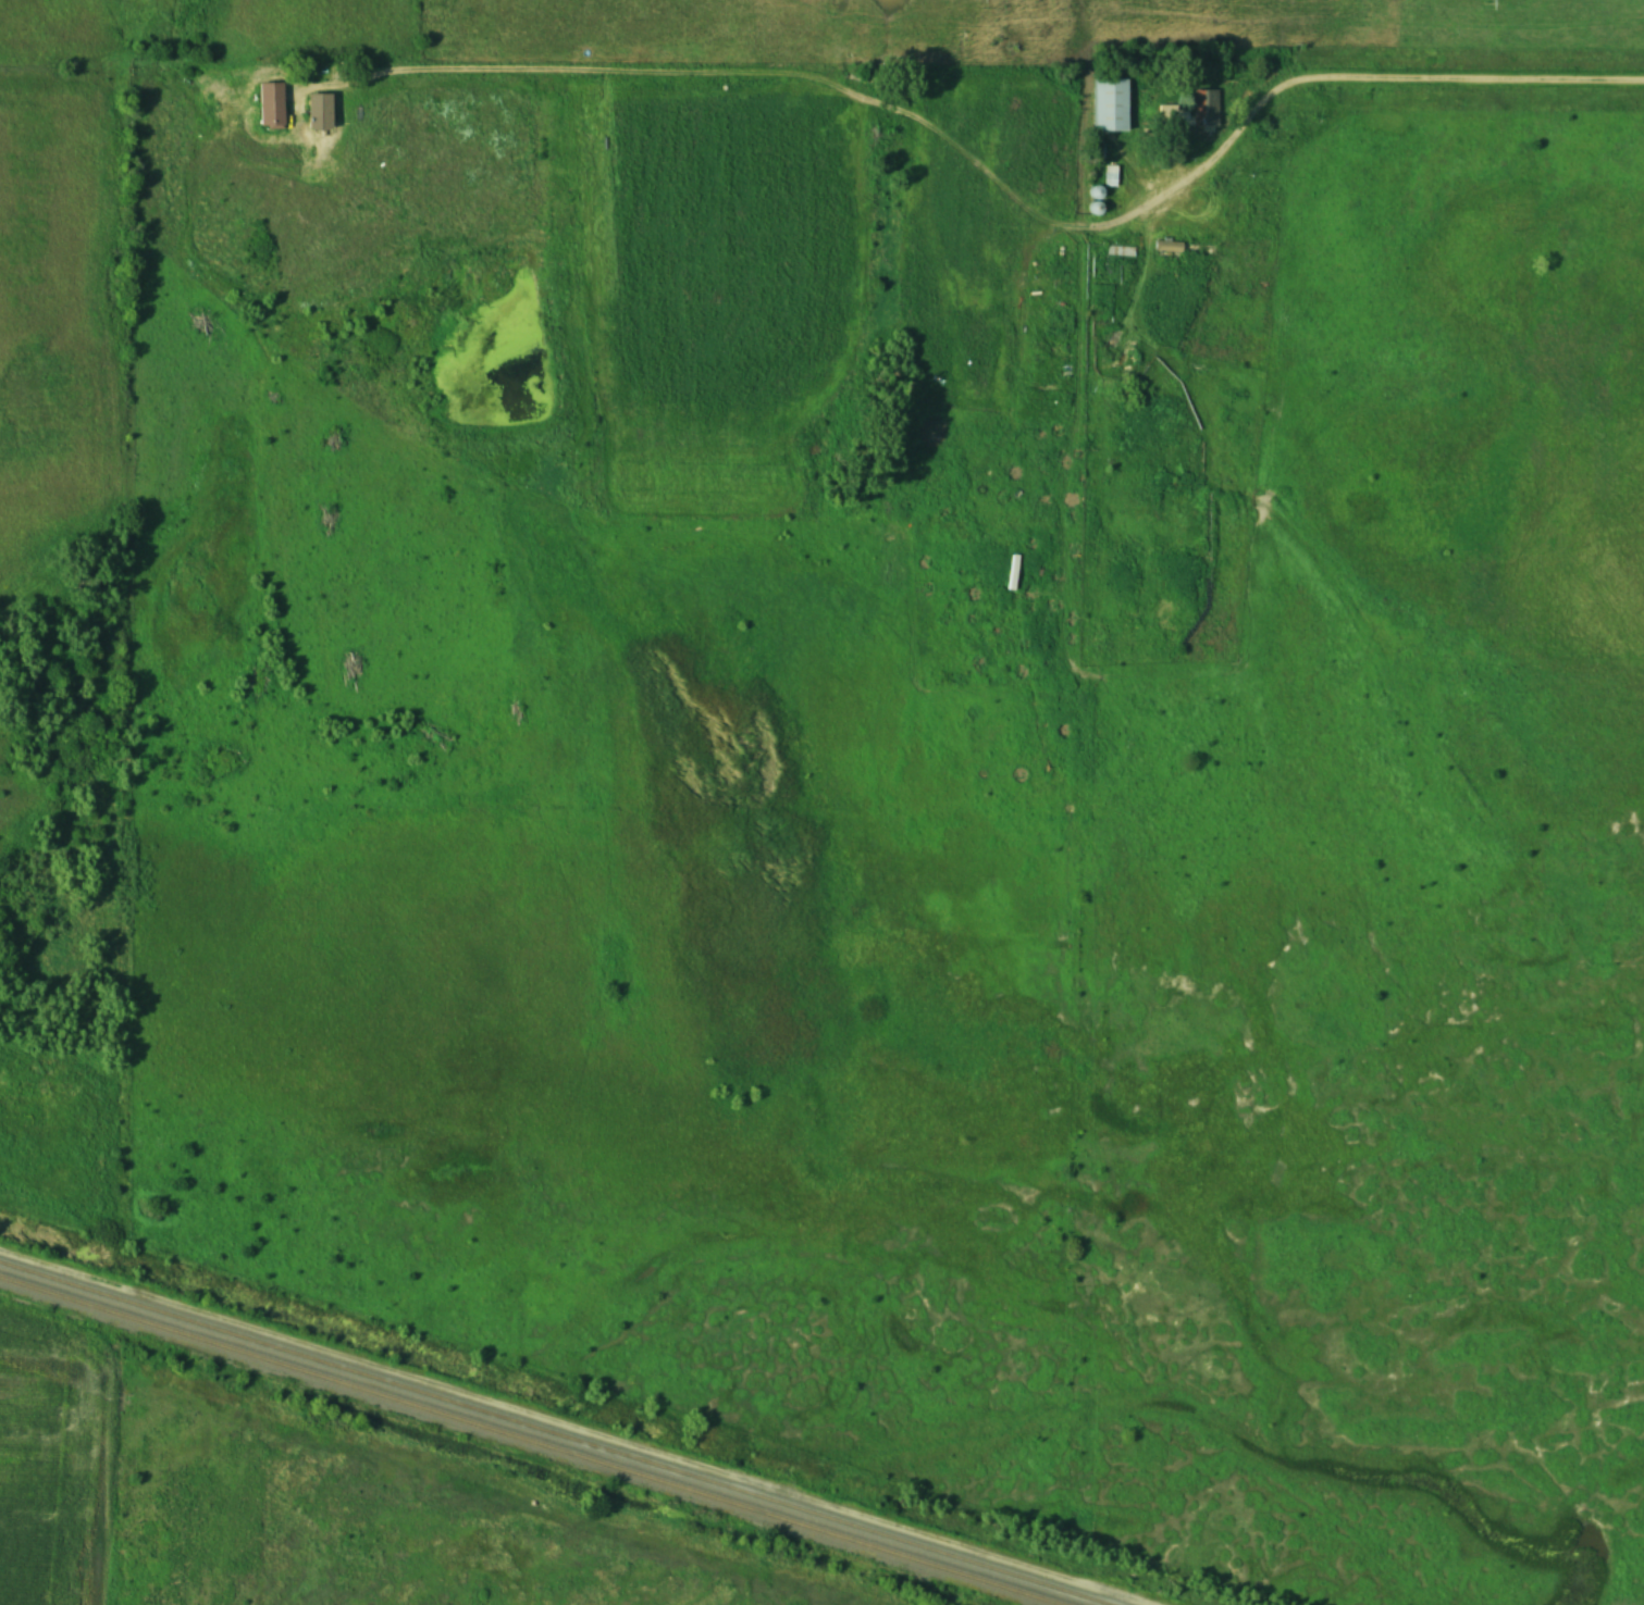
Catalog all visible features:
road: (1388, 79)
building: (1113, 103)
building: (1194, 109)
building: (1171, 245)
railway: (558, 1431)
railway: (537, 1438)

